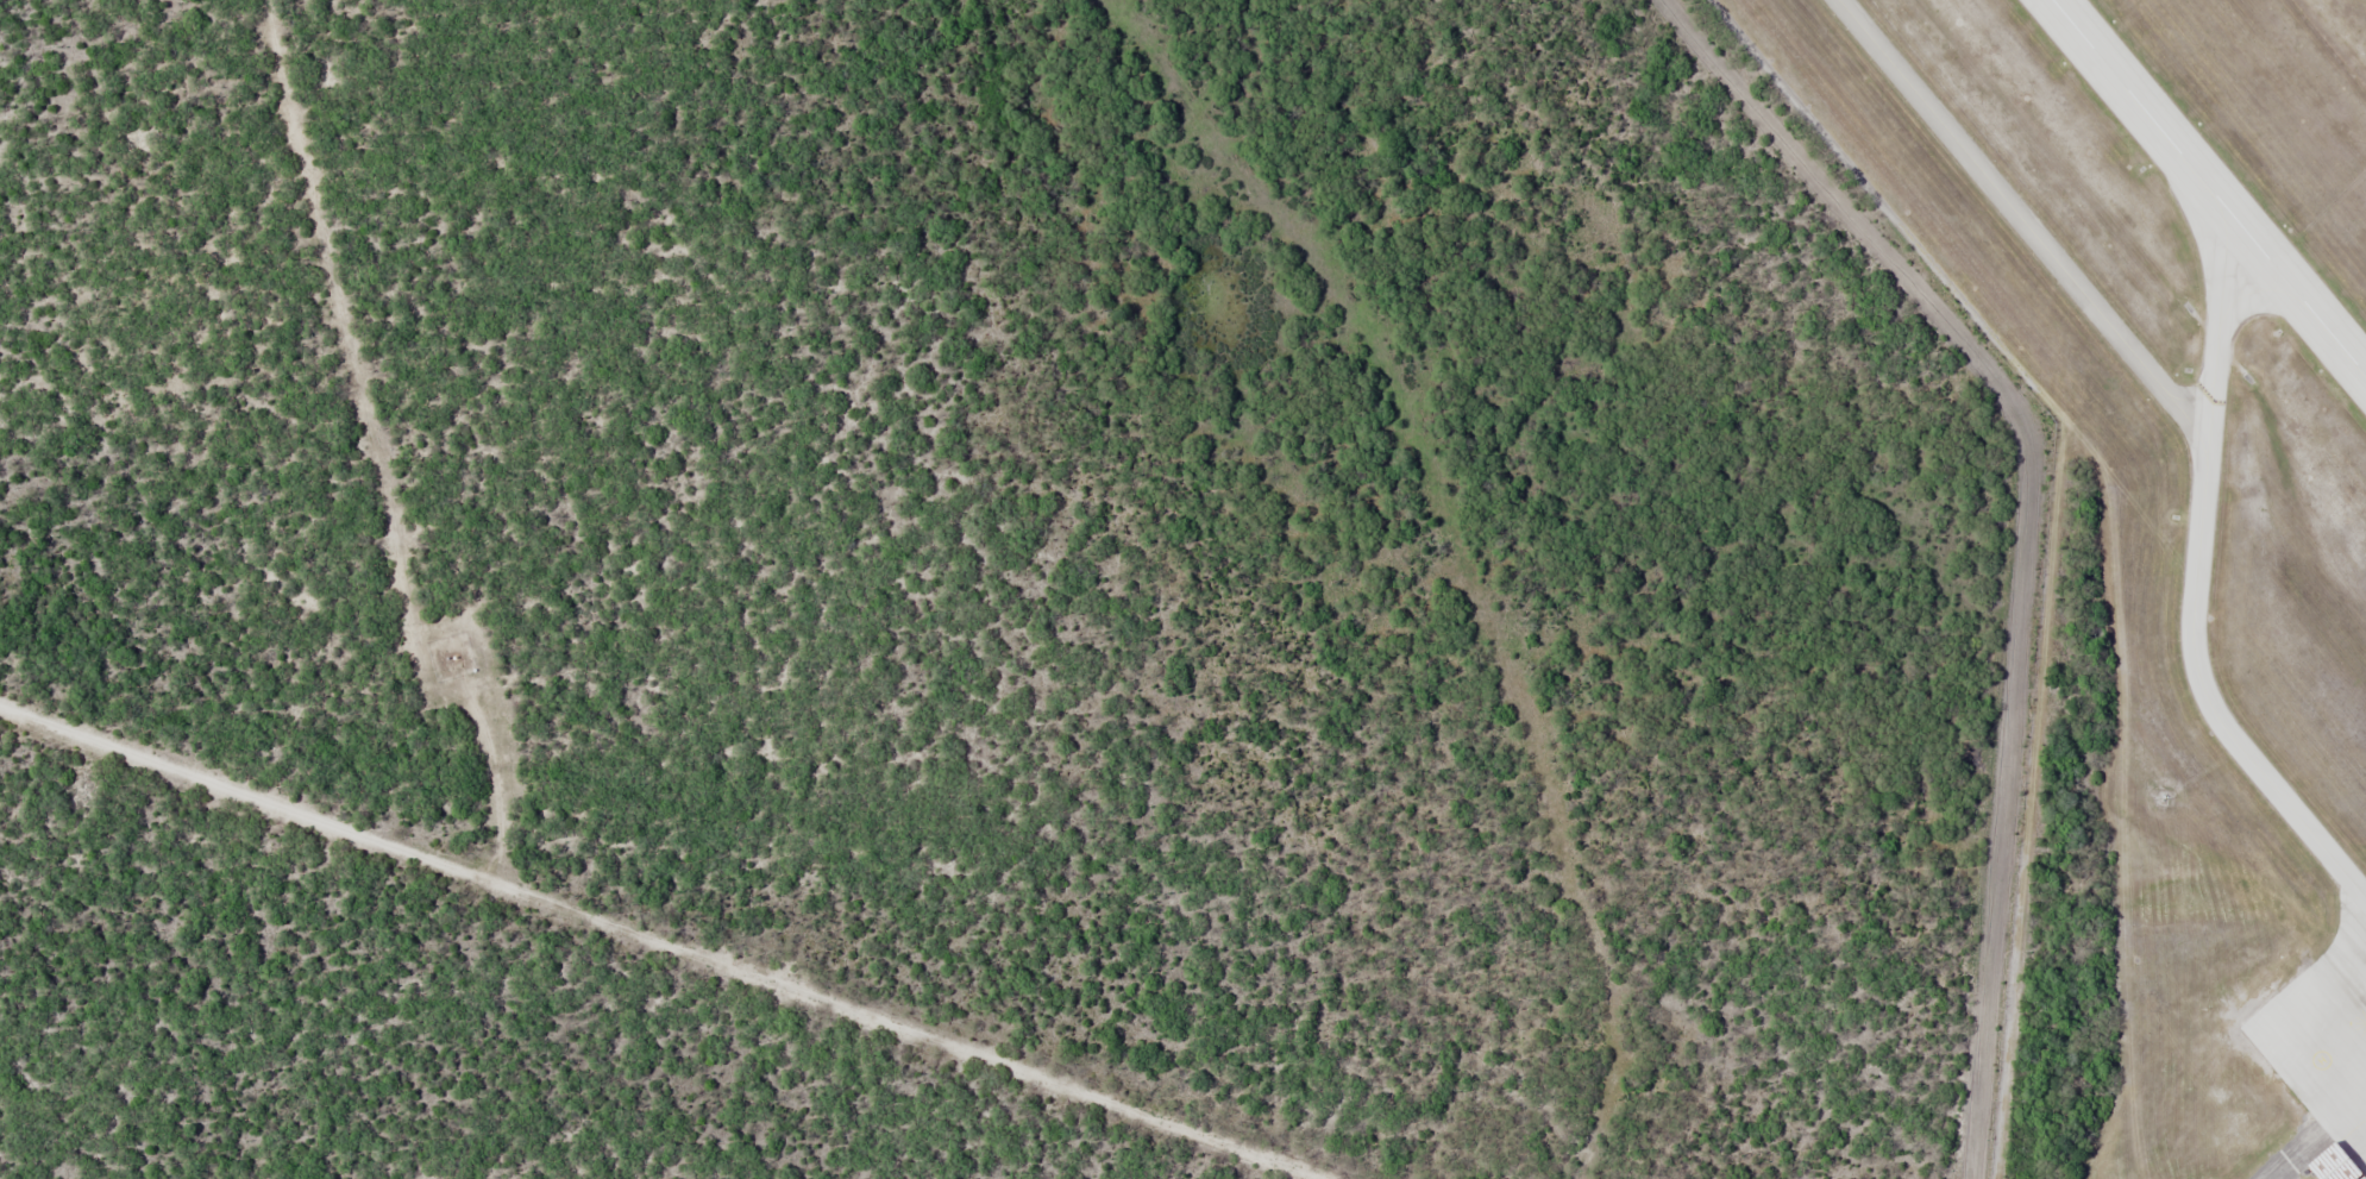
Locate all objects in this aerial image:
airport runway: (2213, 182)
airport runway: (2210, 186)
airport taxiway: (2222, 320)
airport taxiway: (2192, 412)
airport apron: (2324, 1029)
building: (2327, 1165)
building: (2360, 1175)

